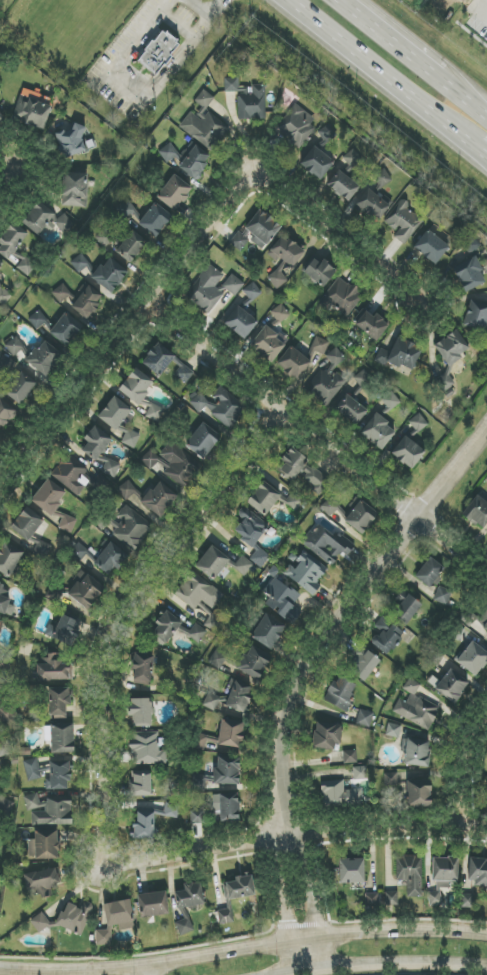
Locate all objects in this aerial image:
road: (162, 4)
road: (483, 16)
road: (207, 17)
road: (177, 23)
road: (202, 28)
road: (391, 41)
building: (158, 54)
road: (378, 71)
road: (135, 79)
building: (248, 99)
road: (465, 100)
building: (2, 121)
building: (204, 124)
building: (296, 126)
building: (327, 134)
building: (71, 141)
road: (477, 150)
building: (186, 158)
building: (352, 159)
building: (317, 163)
building: (382, 178)
building: (343, 185)
building: (74, 190)
road: (21, 191)
building: (174, 192)
building: (372, 205)
building: (45, 220)
building: (155, 220)
building: (403, 222)
building: (257, 231)
building: (104, 238)
building: (433, 245)
building: (131, 246)
road: (205, 246)
building: (471, 246)
building: (15, 249)
building: (284, 259)
building: (80, 263)
building: (1, 264)
building: (319, 271)
building: (469, 274)
building: (109, 275)
building: (213, 288)
building: (251, 294)
building: (63, 295)
building: (4, 297)
building: (341, 297)
building: (86, 302)
building: (279, 314)
building: (476, 315)
building: (37, 320)
building: (240, 323)
building: (370, 323)
building: (65, 330)
building: (268, 343)
building: (320, 345)
building: (14, 347)
building: (400, 355)
building: (335, 357)
building: (45, 358)
building: (158, 359)
building: (294, 363)
building: (5, 365)
building: (183, 371)
building: (363, 378)
building: (20, 388)
building: (137, 388)
building: (327, 388)
building: (390, 401)
building: (219, 407)
building: (351, 410)
building: (5, 413)
building: (154, 413)
building: (119, 420)
building: (418, 423)
building: (378, 432)
building: (202, 440)
road: (318, 440)
building: (96, 442)
building: (407, 452)
building: (150, 459)
building: (293, 462)
building: (179, 466)
building: (111, 469)
building: (77, 478)
building: (317, 480)
building: (50, 495)
building: (152, 498)
building: (264, 498)
building: (295, 501)
building: (477, 511)
building: (360, 516)
building: (67, 524)
building: (26, 525)
building: (249, 527)
building: (129, 528)
building: (42, 550)
building: (106, 558)
building: (259, 558)
building: (9, 559)
building: (212, 562)
building: (241, 565)
building: (306, 572)
building: (430, 573)
building: (85, 590)
building: (198, 592)
building: (443, 595)
building: (283, 600)
building: (6, 604)
road: (117, 609)
building: (406, 610)
road: (338, 614)
building: (213, 623)
building: (484, 624)
building: (1, 626)
building: (175, 628)
building: (63, 630)
building: (268, 632)
building: (387, 639)
building: (473, 658)
building: (217, 661)
building: (363, 664)
building: (253, 665)
building: (143, 667)
building: (53, 670)
building: (452, 686)
building: (341, 693)
building: (231, 697)
building: (58, 703)
building: (416, 707)
building: (140, 712)
building: (5, 714)
building: (364, 718)
building: (393, 730)
building: (231, 734)
building: (327, 735)
building: (60, 738)
building: (4, 747)
building: (147, 748)
building: (415, 752)
building: (350, 757)
building: (224, 773)
building: (360, 773)
road: (466, 774)
building: (140, 782)
building: (486, 789)
building: (418, 793)
building: (339, 795)
building: (6, 807)
building: (229, 807)
building: (48, 811)
building: (198, 817)
building: (143, 826)
road: (293, 836)
building: (44, 845)
building: (352, 871)
building: (477, 872)
building: (410, 874)
building: (442, 877)
building: (42, 880)
building: (240, 887)
building: (189, 896)
building: (391, 898)
building: (372, 899)
building: (468, 901)
building: (153, 904)
building: (226, 914)
building: (75, 917)
building: (114, 920)
building: (40, 923)
building: (184, 926)
road: (242, 946)
road: (308, 966)
road: (381, 966)
road: (153, 970)

